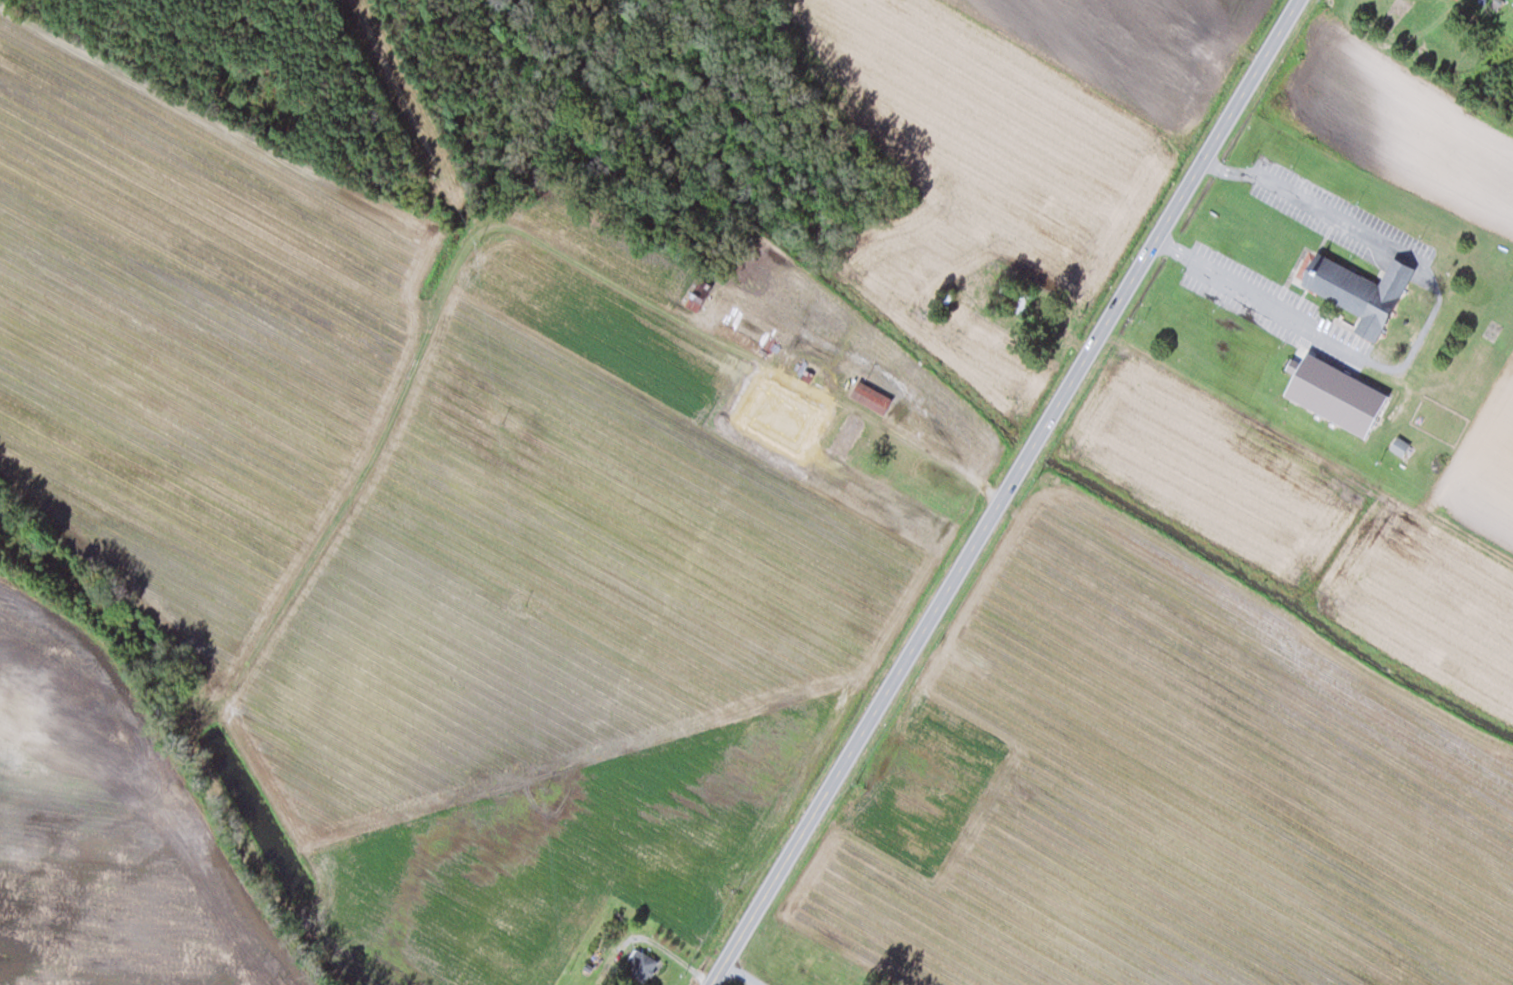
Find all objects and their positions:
building: (1394, 12)
building: (1359, 287)
building: (1013, 298)
building: (943, 300)
road: (1422, 332)
building: (751, 343)
building: (1334, 394)
building: (870, 397)
building: (814, 403)
building: (847, 431)
road: (1005, 493)
building: (641, 965)

